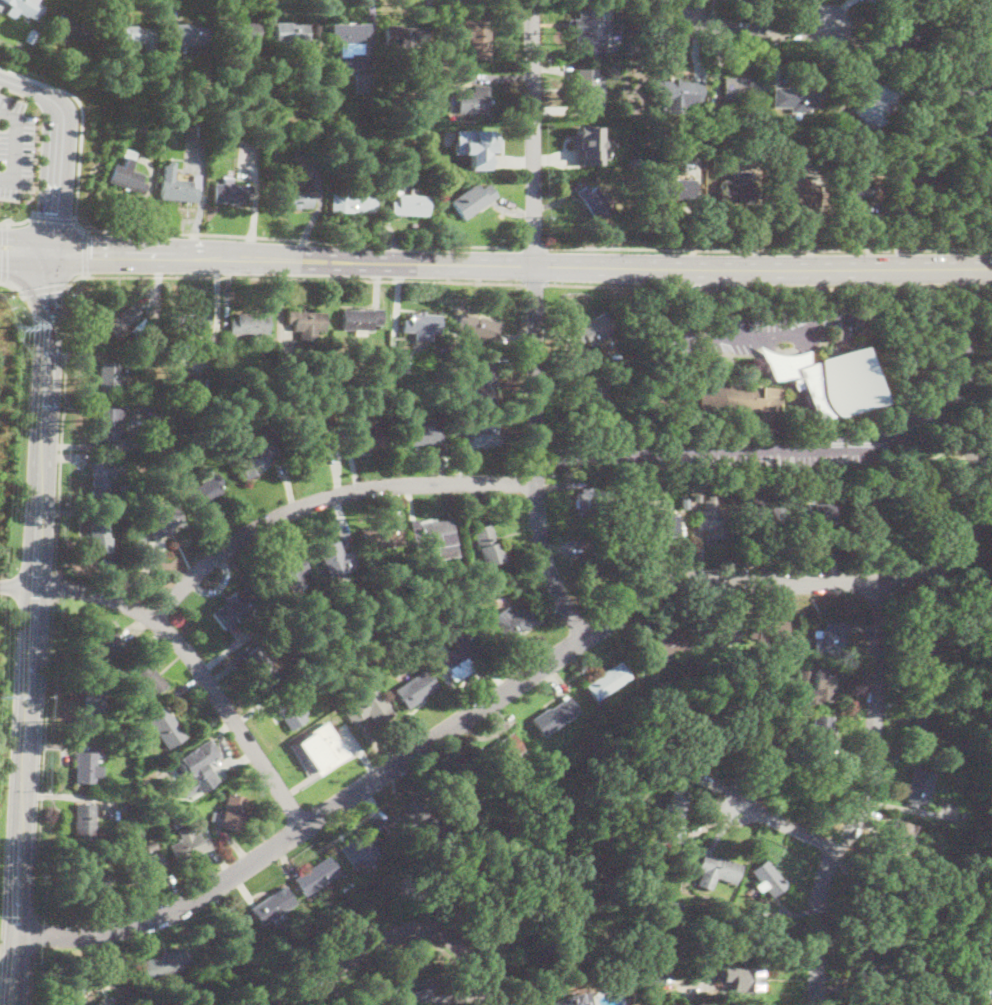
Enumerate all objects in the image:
building: (25, 7)
building: (922, 12)
building: (983, 13)
building: (74, 29)
road: (742, 30)
building: (191, 34)
building: (242, 35)
building: (135, 36)
building: (294, 36)
building: (411, 37)
building: (475, 37)
building: (587, 37)
building: (348, 38)
building: (900, 38)
building: (632, 47)
building: (980, 70)
building: (950, 74)
building: (367, 76)
building: (935, 84)
building: (587, 87)
building: (741, 89)
building: (678, 94)
building: (960, 94)
building: (797, 98)
building: (473, 100)
building: (876, 104)
road: (8, 116)
building: (426, 116)
building: (988, 117)
road: (79, 126)
building: (654, 126)
building: (143, 128)
building: (201, 130)
building: (753, 132)
building: (717, 138)
building: (298, 143)
building: (482, 144)
building: (787, 144)
road: (57, 145)
building: (589, 146)
parking lot: (14, 147)
road: (16, 149)
building: (635, 162)
building: (784, 163)
building: (722, 164)
building: (127, 175)
road: (8, 177)
building: (917, 179)
building: (177, 184)
building: (672, 189)
building: (852, 189)
building: (230, 192)
building: (736, 192)
building: (794, 194)
building: (295, 195)
building: (472, 200)
building: (352, 203)
building: (594, 203)
building: (409, 205)
road: (884, 211)
traffic signals: (53, 212)
road: (818, 213)
road: (757, 215)
road: (695, 216)
road: (53, 218)
road: (20, 221)
road: (304, 240)
road: (25, 242)
road: (534, 247)
road: (767, 250)
road: (4, 251)
traffic signals: (91, 252)
road: (84, 253)
road: (25, 255)
road: (358, 261)
road: (688, 270)
road: (850, 270)
road: (304, 277)
road: (534, 283)
road: (12, 284)
road: (605, 285)
road: (672, 287)
road: (847, 287)
road: (675, 288)
road: (684, 288)
road: (695, 288)
road: (696, 288)
road: (44, 289)
traffic signals: (49, 295)
road: (825, 299)
building: (362, 320)
road: (684, 322)
building: (124, 323)
building: (188, 324)
building: (249, 324)
building: (307, 324)
building: (421, 324)
road: (534, 324)
power tower: (16, 326)
building: (477, 328)
building: (595, 330)
road: (952, 336)
road: (790, 349)
building: (145, 363)
building: (784, 365)
building: (109, 378)
building: (488, 380)
building: (835, 386)
building: (592, 389)
building: (741, 401)
road: (44, 417)
road: (61, 418)
building: (109, 425)
building: (370, 434)
building: (420, 435)
building: (482, 436)
road: (990, 444)
building: (309, 447)
road: (639, 454)
building: (257, 460)
building: (751, 482)
building: (108, 484)
building: (205, 491)
road: (324, 499)
building: (591, 502)
building: (685, 502)
building: (924, 503)
building: (764, 514)
building: (814, 515)
building: (868, 518)
building: (716, 519)
building: (162, 523)
building: (661, 525)
building: (436, 531)
building: (626, 535)
building: (380, 537)
building: (101, 540)
building: (488, 545)
building: (912, 555)
building: (601, 557)
building: (335, 559)
building: (286, 572)
road: (17, 586)
road: (55, 587)
building: (237, 608)
building: (511, 621)
building: (768, 630)
building: (719, 632)
building: (922, 640)
building: (828, 641)
building: (365, 644)
building: (670, 644)
building: (104, 649)
building: (432, 656)
building: (462, 657)
road: (198, 669)
building: (263, 670)
building: (707, 672)
building: (804, 675)
road: (525, 678)
building: (147, 680)
building: (607, 681)
building: (692, 681)
building: (793, 687)
building: (921, 687)
building: (819, 688)
building: (417, 689)
building: (92, 708)
building: (375, 709)
building: (289, 712)
building: (552, 717)
building: (790, 718)
building: (164, 727)
building: (919, 734)
building: (819, 737)
building: (758, 741)
building: (321, 748)
building: (502, 750)
road: (43, 756)
building: (693, 758)
building: (86, 766)
building: (194, 767)
building: (501, 781)
building: (455, 782)
building: (807, 785)
building: (917, 787)
road: (23, 796)
road: (862, 799)
building: (126, 808)
building: (231, 812)
building: (404, 819)
building: (673, 820)
building: (177, 821)
building: (83, 823)
road: (785, 825)
building: (438, 832)
building: (897, 840)
building: (151, 845)
building: (189, 845)
building: (361, 848)
building: (144, 868)
building: (716, 871)
building: (94, 874)
building: (316, 875)
building: (766, 878)
building: (344, 882)
building: (872, 894)
building: (273, 905)
building: (675, 907)
building: (744, 914)
building: (757, 915)
building: (307, 919)
road: (34, 931)
building: (556, 931)
building: (626, 935)
road: (389, 938)
building: (746, 944)
building: (872, 944)
road: (392, 949)
building: (166, 963)
building: (869, 975)
road: (32, 976)
building: (745, 978)
building: (987, 978)
building: (650, 980)
building: (98, 983)
building: (851, 989)
building: (417, 991)
road: (683, 991)
building: (567, 1000)
building: (364, 1002)
building: (644, 1002)
building: (877, 1002)
building: (98, 1003)
building: (380, 1004)

